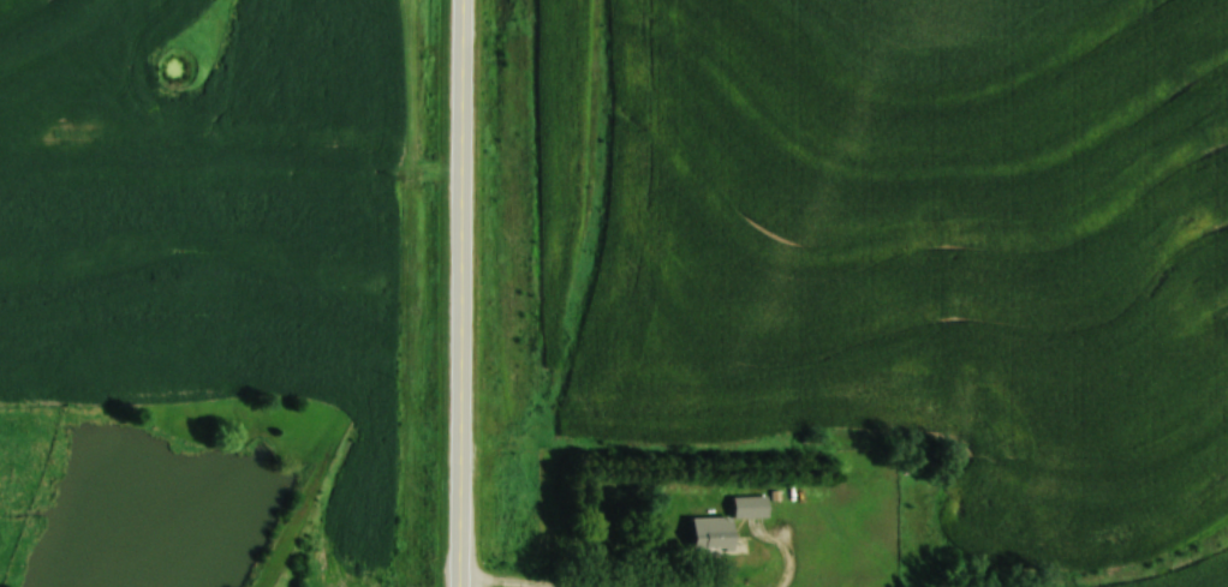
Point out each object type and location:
road: (459, 293)
building: (728, 523)

